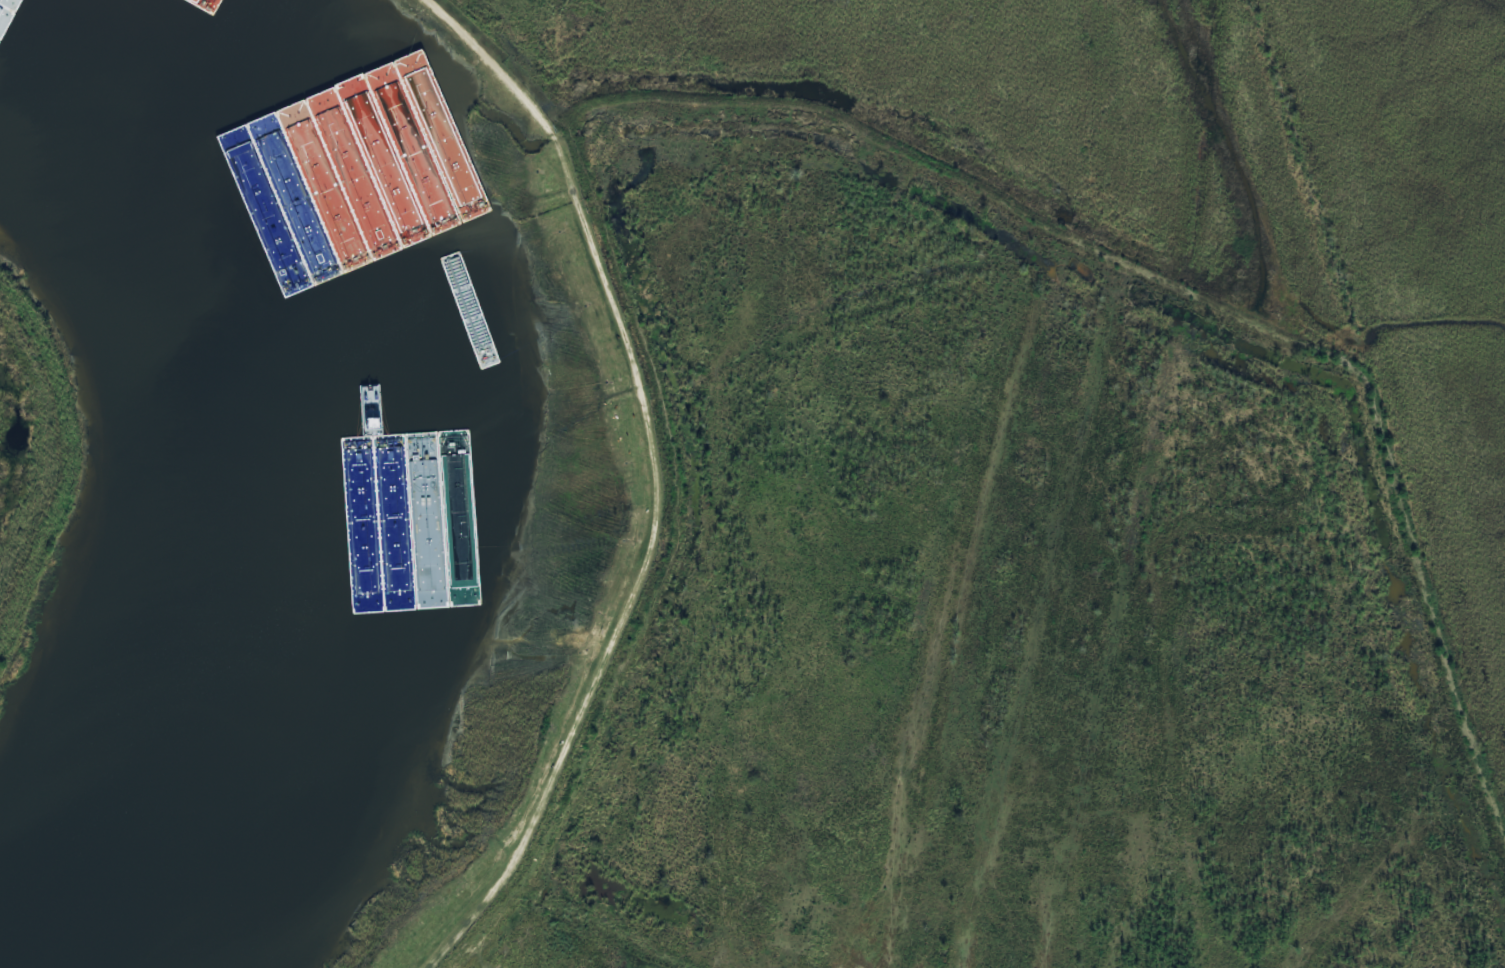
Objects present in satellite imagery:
road: (655, 478)

